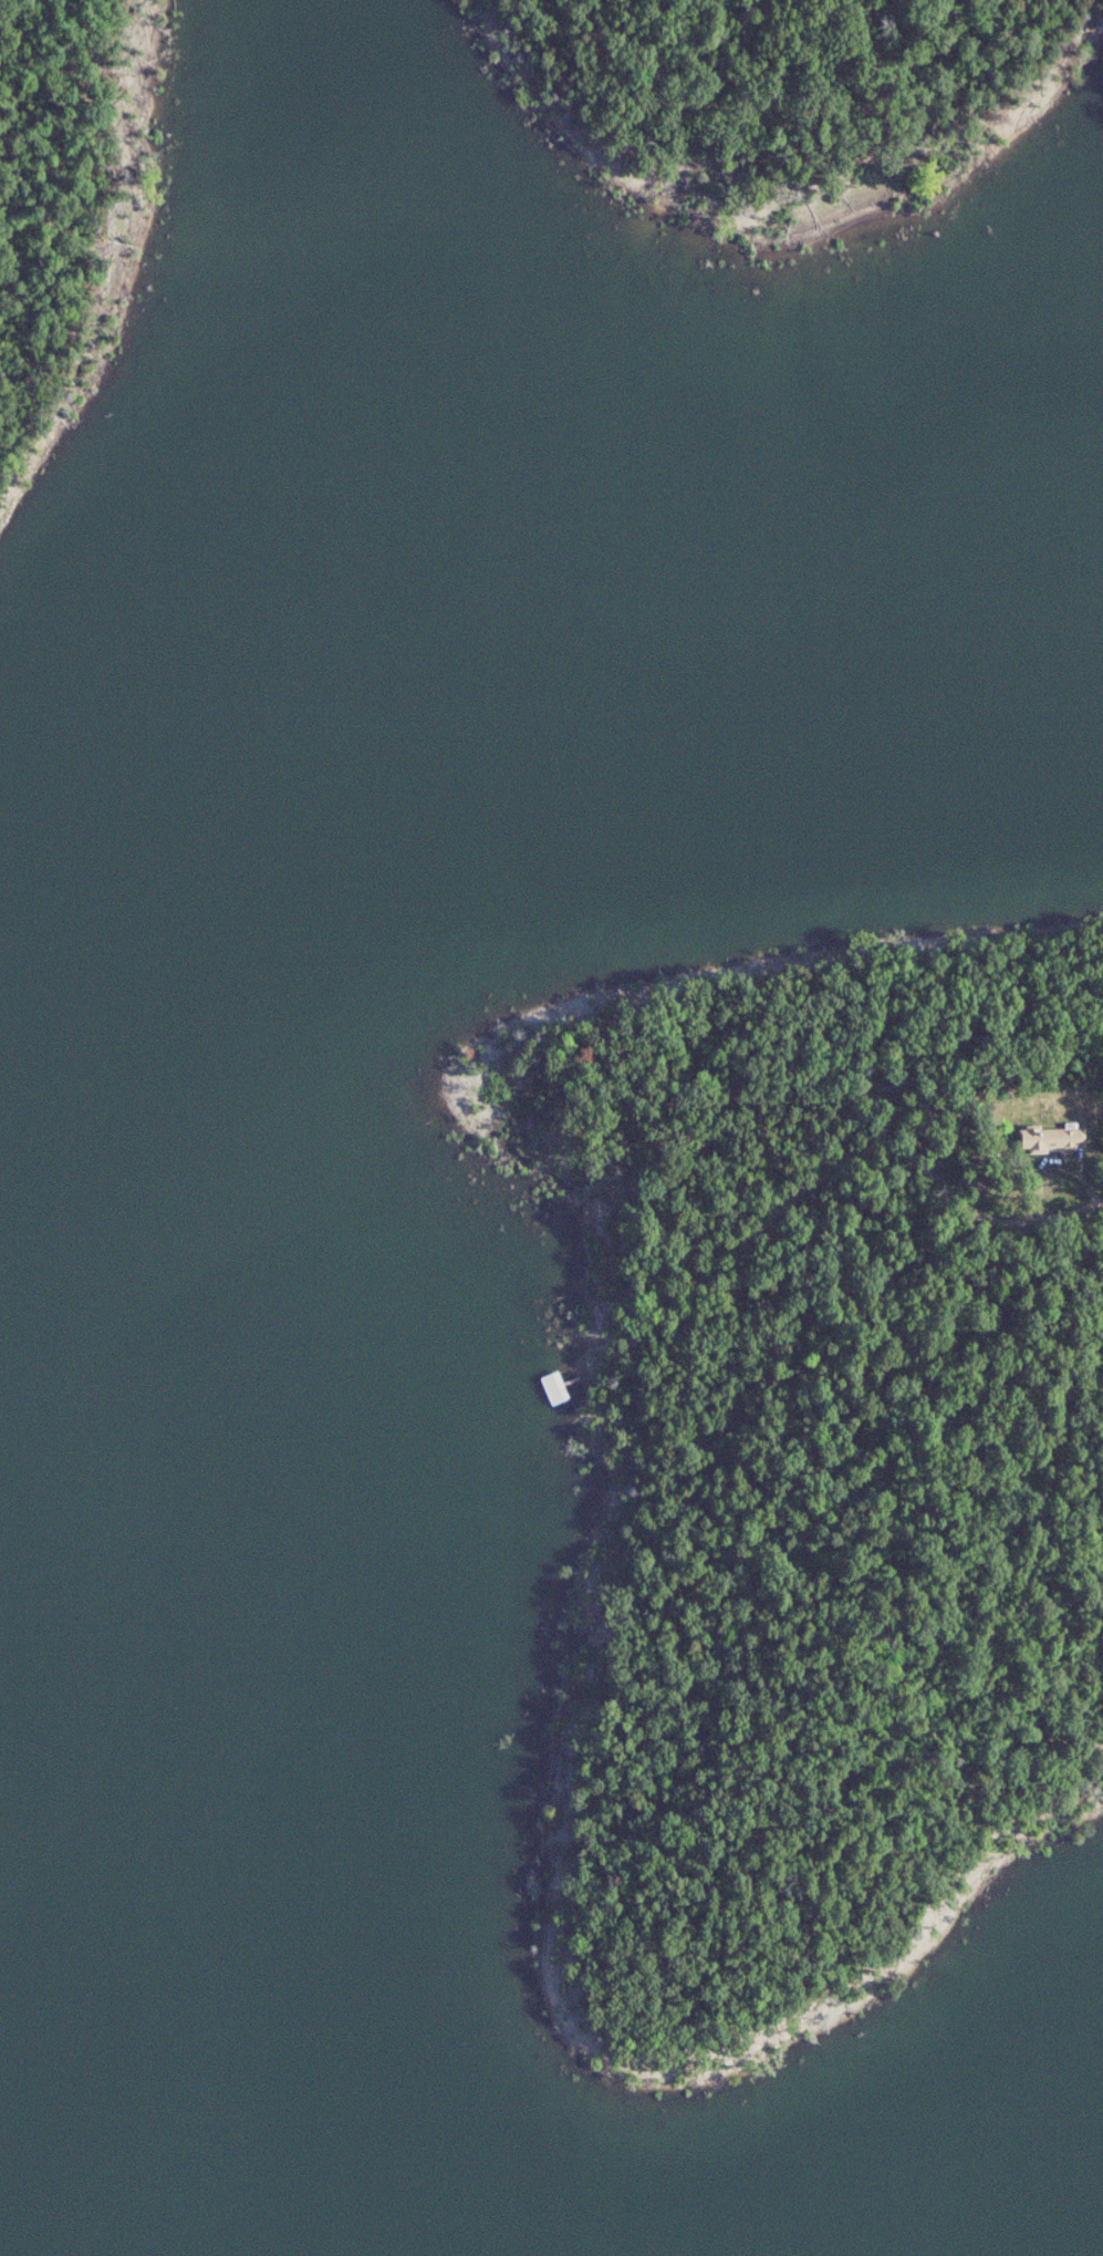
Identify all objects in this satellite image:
building: (1053, 1137)
road: (837, 1158)

